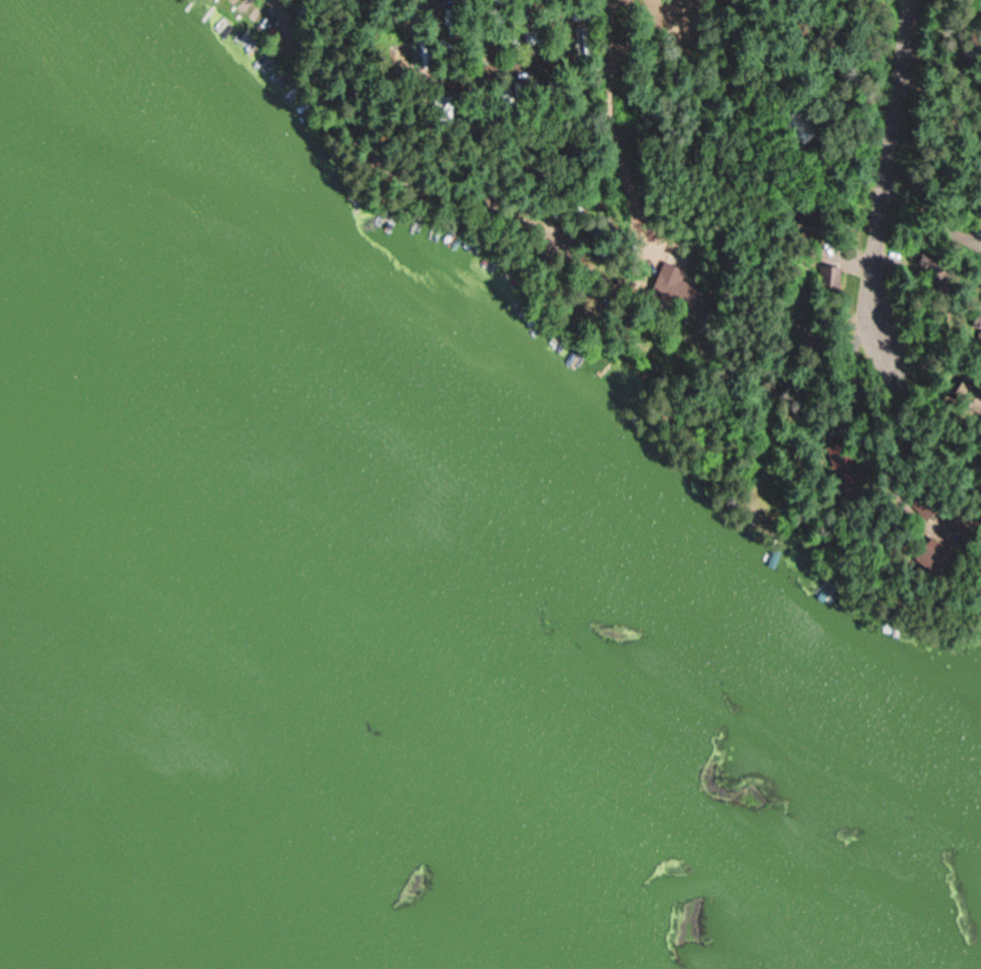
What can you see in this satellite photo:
road: (871, 173)
building: (973, 226)
building: (979, 255)

